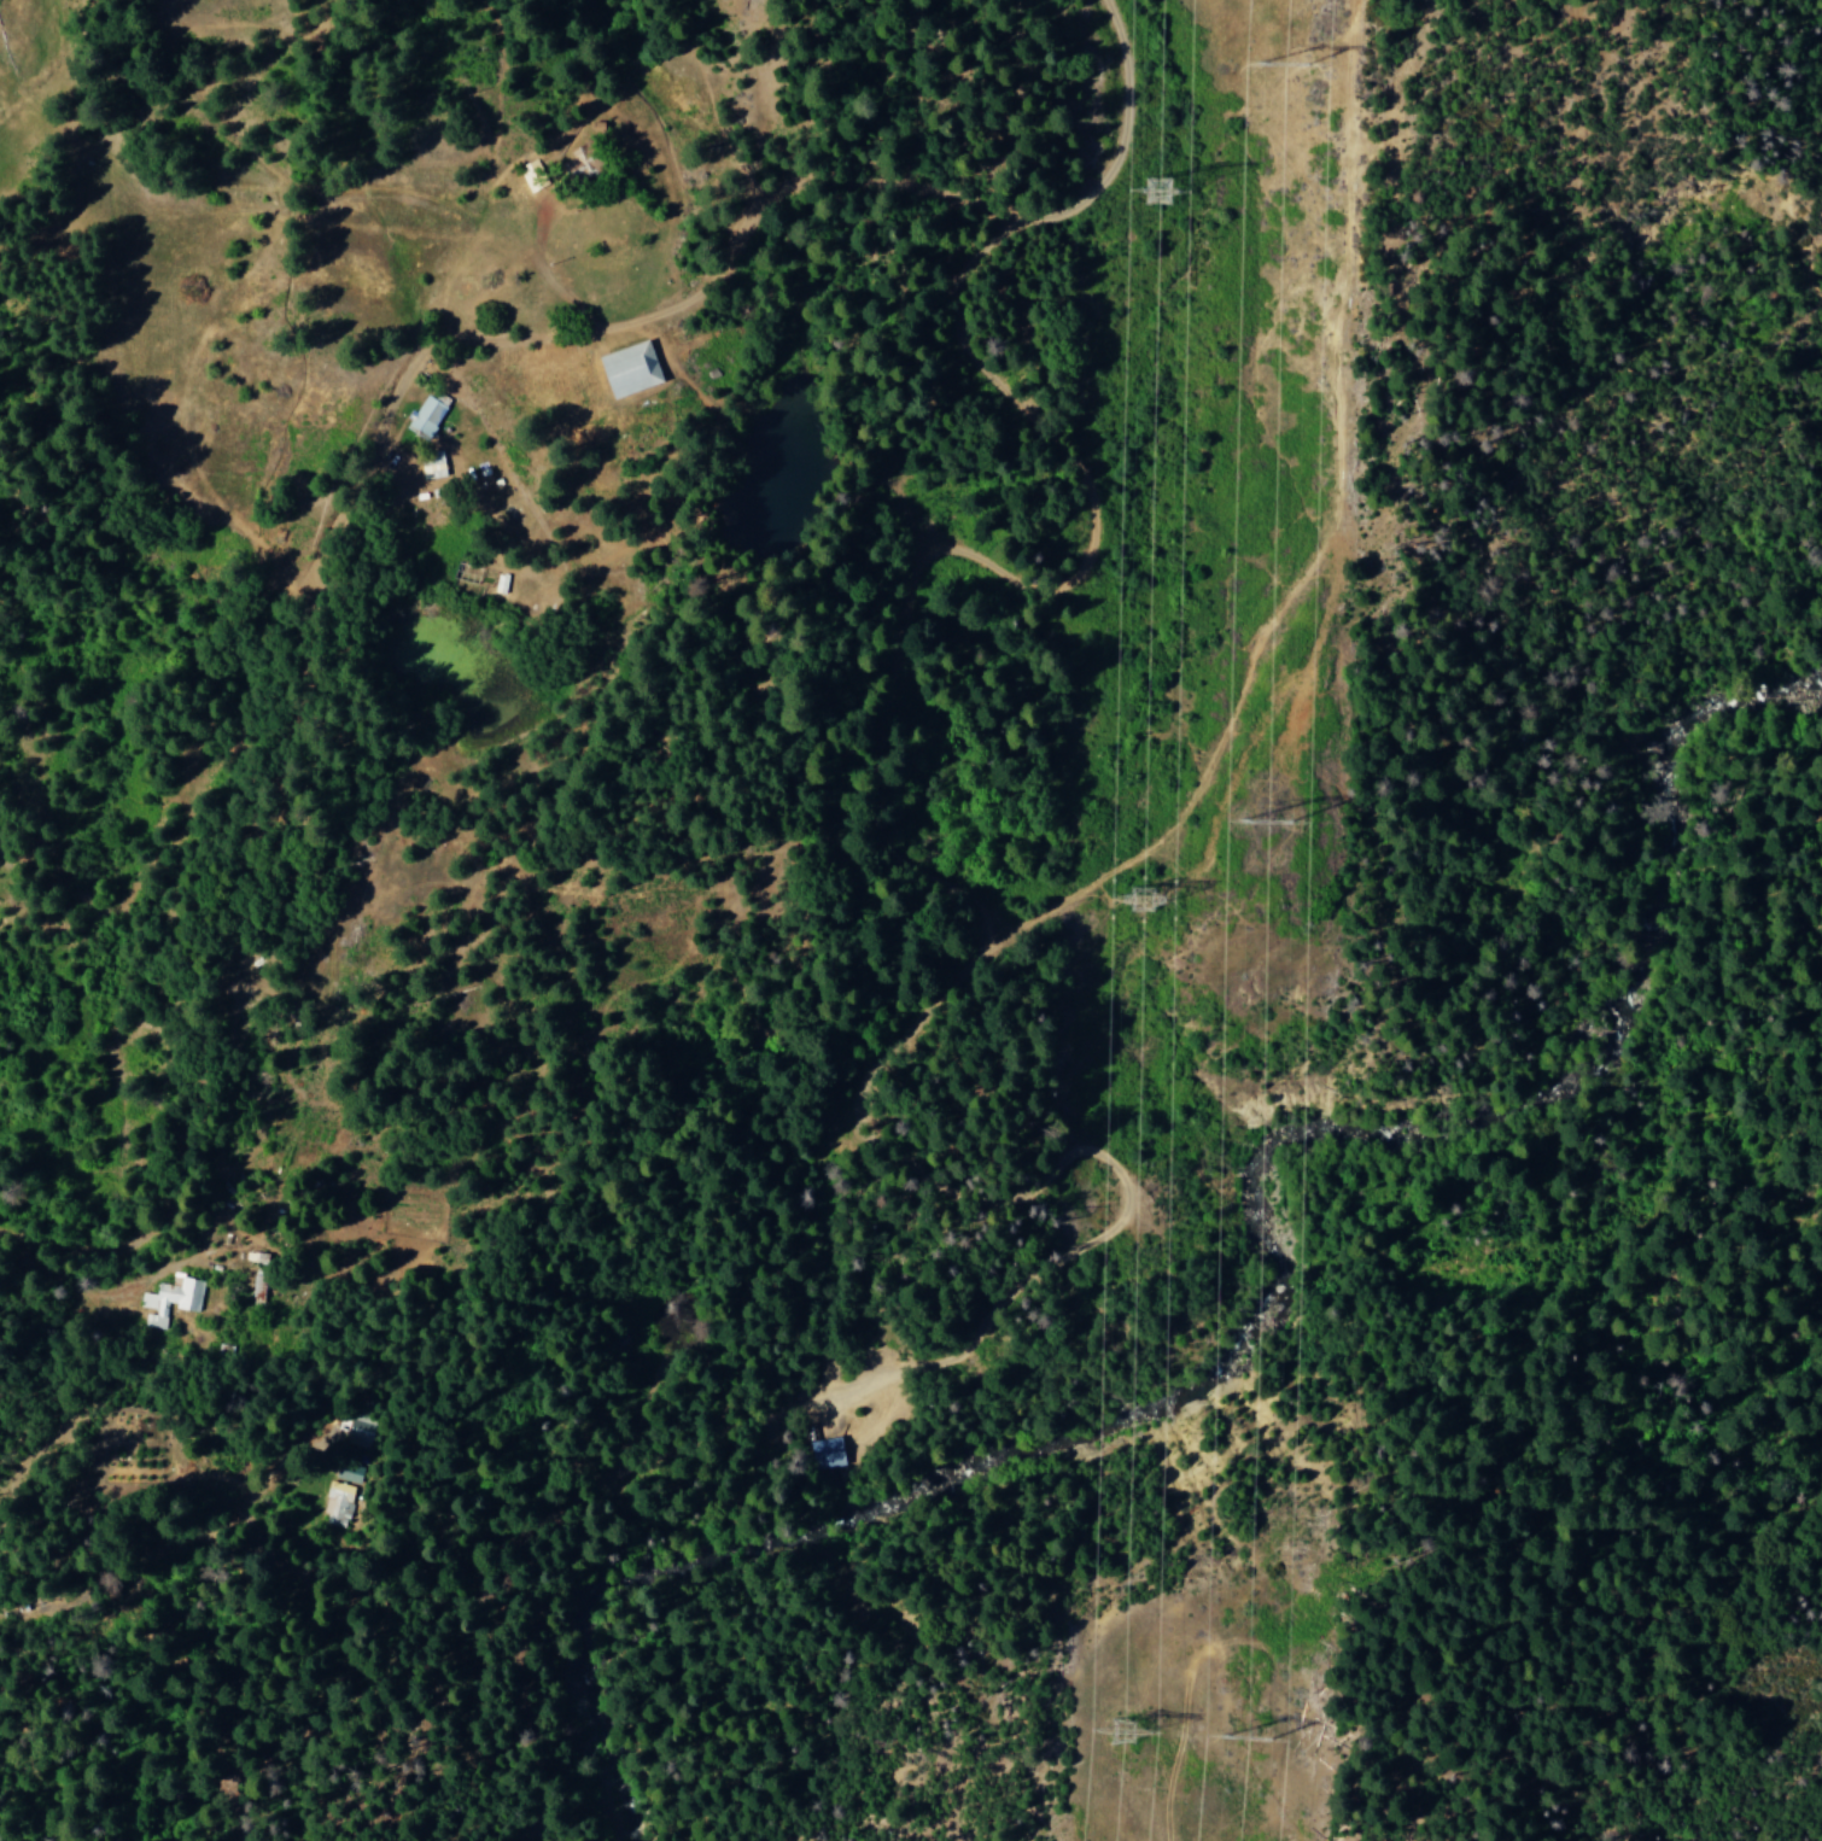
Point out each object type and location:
power tower: (1284, 59)
power tower: (1145, 182)
road: (878, 211)
road: (286, 222)
building: (625, 370)
building: (427, 415)
building: (467, 574)
power tower: (1262, 816)
road: (269, 820)
power tower: (1138, 892)
building: (169, 1299)
building: (358, 1433)
building: (824, 1454)
building: (349, 1473)
building: (337, 1504)
road: (28, 1638)
power tower: (1242, 1731)
power tower: (1121, 1732)

